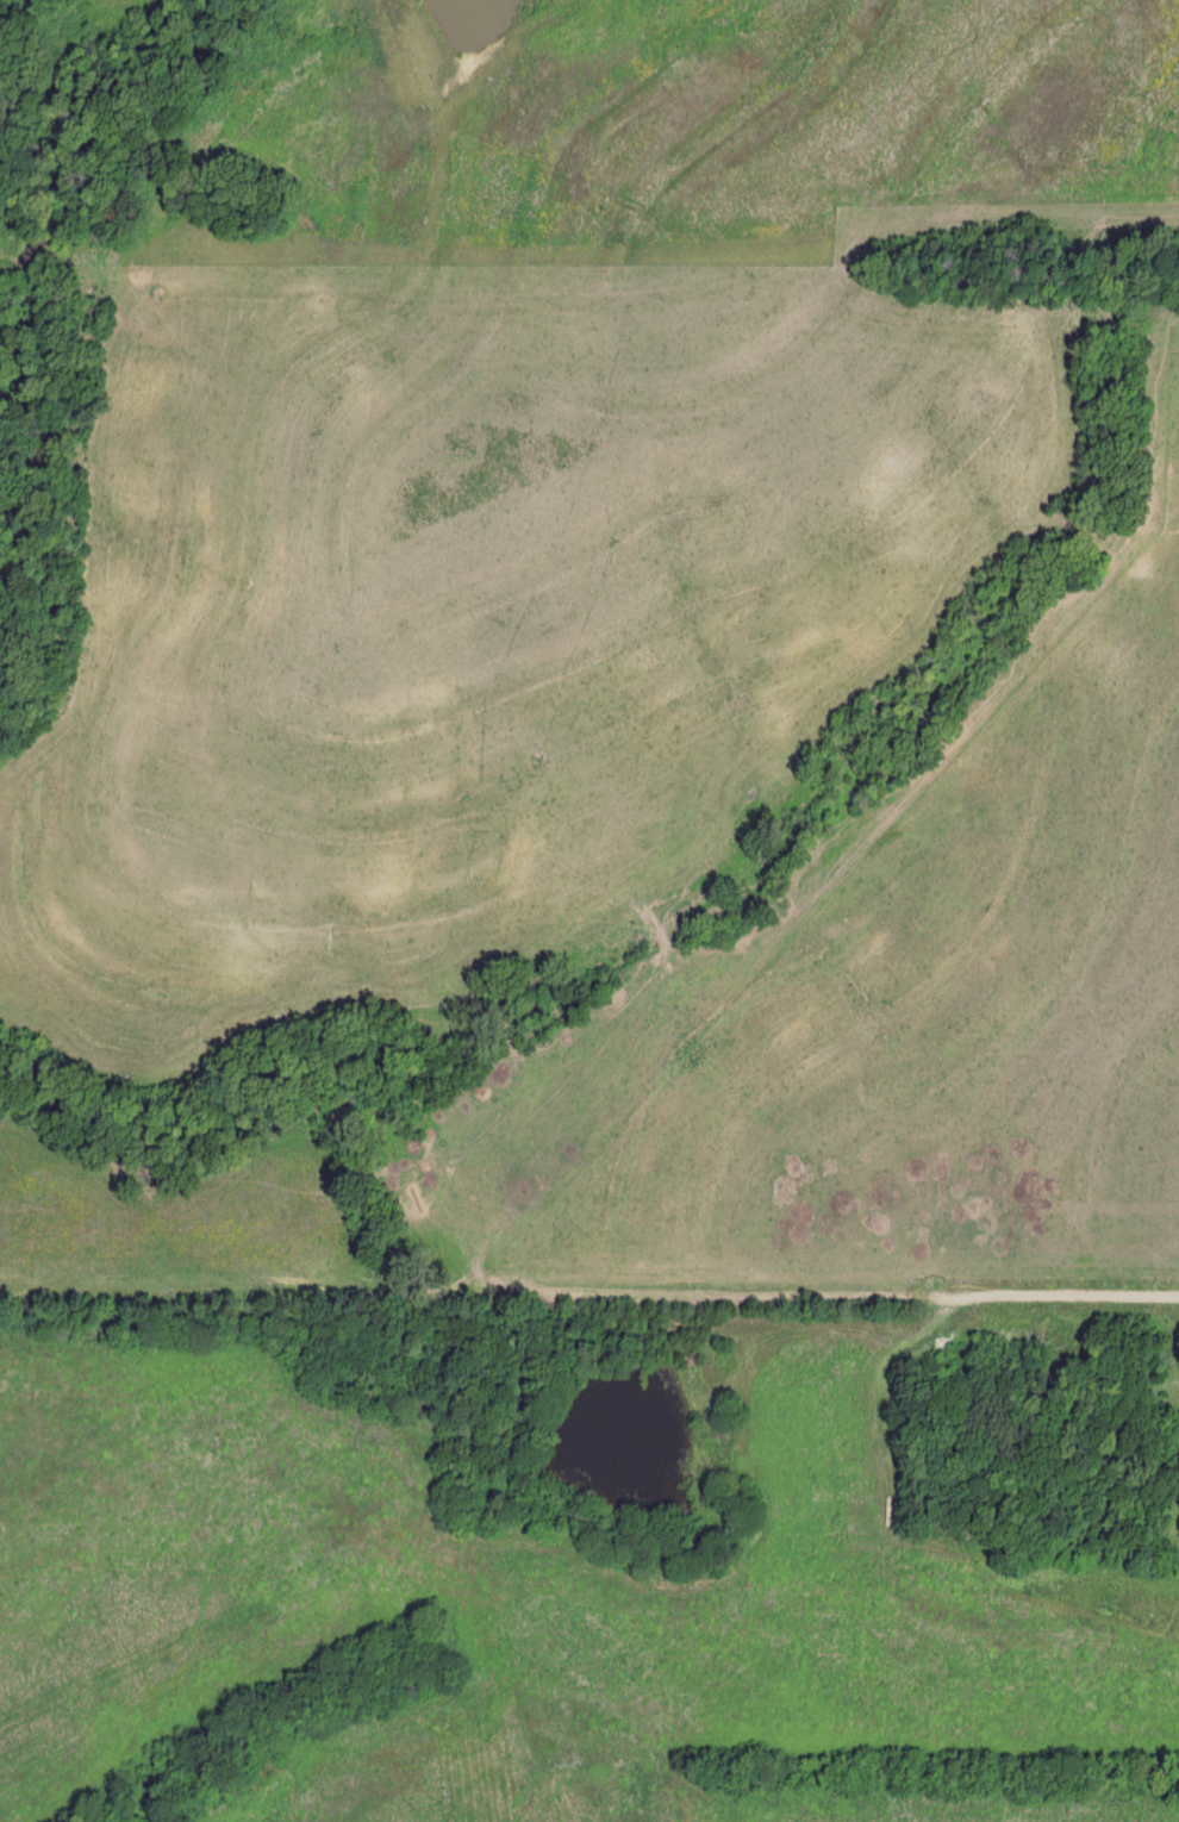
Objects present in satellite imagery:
road: (589, 1250)

